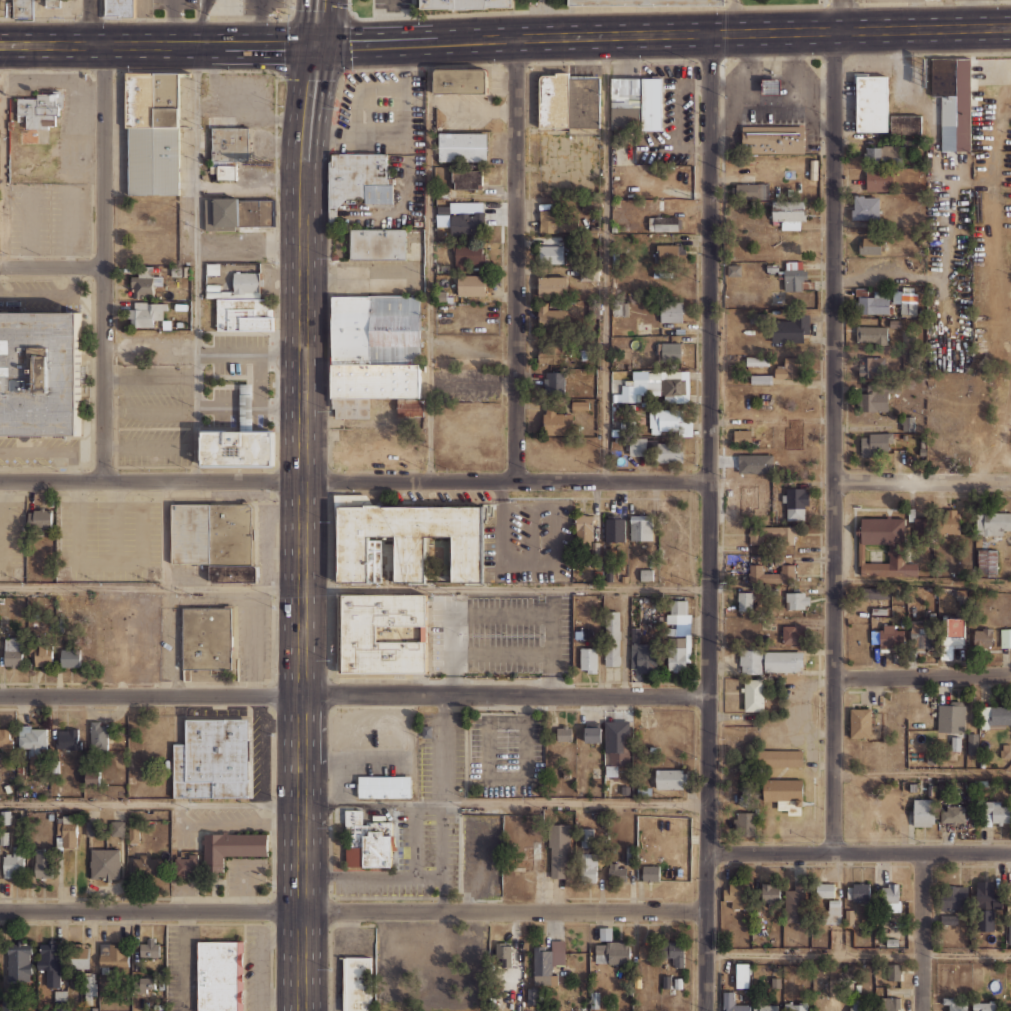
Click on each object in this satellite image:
parking lot: (884, 0)
building: (647, 1)
building: (52, 3)
parking lot: (174, 3)
building: (466, 3)
parking lot: (392, 4)
road: (392, 5)
building: (118, 8)
building: (22, 9)
road: (948, 13)
road: (836, 15)
road: (733, 16)
road: (91, 22)
road: (200, 22)
road: (317, 22)
road: (922, 27)
road: (574, 35)
road: (158, 45)
traffic signals: (316, 45)
building: (460, 80)
building: (770, 87)
gas station: (770, 87)
parking lot: (239, 98)
building: (553, 100)
building: (583, 100)
building: (953, 101)
building: (871, 102)
building: (635, 104)
building: (40, 109)
building: (905, 126)
building: (152, 133)
road: (398, 133)
building: (230, 135)
building: (773, 139)
building: (462, 147)
building: (230, 152)
road: (4, 155)
building: (884, 155)
parking lot: (569, 164)
building: (223, 171)
building: (466, 179)
building: (357, 180)
building: (878, 182)
building: (744, 193)
building: (443, 194)
building: (139, 210)
building: (864, 210)
building: (787, 212)
building: (238, 213)
parking lot: (48, 217)
building: (558, 221)
building: (663, 223)
building: (465, 224)
building: (377, 244)
building: (869, 246)
building: (140, 249)
building: (665, 253)
building: (551, 254)
building: (468, 255)
road: (604, 258)
road: (516, 259)
road: (429, 261)
road: (103, 262)
road: (197, 263)
road: (51, 265)
building: (772, 268)
building: (734, 270)
road: (362, 276)
building: (589, 276)
parking lot: (378, 277)
building: (796, 277)
building: (144, 281)
building: (245, 282)
building: (471, 284)
building: (552, 284)
building: (871, 304)
building: (908, 304)
building: (619, 309)
building: (671, 311)
building: (144, 313)
building: (243, 313)
building: (550, 315)
building: (757, 318)
building: (894, 323)
building: (374, 324)
building: (790, 330)
building: (870, 337)
road: (150, 346)
building: (670, 350)
parking lot: (237, 352)
road: (250, 353)
building: (583, 353)
building: (551, 355)
building: (374, 358)
building: (757, 360)
building: (872, 365)
building: (793, 366)
building: (40, 372)
building: (761, 378)
building: (375, 381)
building: (554, 383)
building: (660, 387)
building: (877, 401)
building: (580, 405)
building: (410, 407)
building: (348, 409)
parking lot: (153, 416)
building: (669, 421)
building: (556, 422)
building: (908, 424)
building: (624, 428)
building: (742, 434)
building: (237, 440)
road: (833, 441)
building: (380, 442)
building: (878, 445)
building: (656, 449)
road: (922, 481)
road: (354, 482)
building: (797, 504)
building: (39, 517)
road: (708, 521)
building: (952, 522)
building: (995, 523)
road: (302, 527)
building: (584, 527)
building: (641, 527)
building: (920, 527)
building: (614, 529)
building: (210, 533)
road: (165, 534)
building: (771, 534)
parking lot: (11, 537)
parking lot: (110, 538)
building: (404, 540)
parking lot: (529, 543)
building: (884, 547)
building: (987, 562)
building: (608, 572)
building: (232, 573)
building: (646, 574)
building: (772, 574)
building: (624, 579)
road: (150, 586)
road: (505, 587)
building: (901, 589)
building: (875, 593)
building: (961, 596)
building: (797, 600)
building: (745, 601)
building: (878, 610)
road: (502, 611)
building: (382, 632)
parking lot: (501, 633)
building: (922, 633)
building: (793, 634)
building: (678, 635)
building: (950, 636)
building: (1005, 637)
building: (206, 638)
building: (612, 638)
building: (888, 638)
building: (981, 638)
building: (13, 650)
building: (642, 652)
building: (42, 654)
building: (70, 656)
building: (588, 659)
building: (750, 660)
building: (782, 661)
road: (922, 675)
building: (754, 694)
road: (151, 697)
road: (505, 697)
building: (995, 717)
building: (951, 718)
building: (861, 722)
building: (98, 733)
building: (563, 733)
building: (593, 733)
building: (4, 737)
building: (68, 738)
building: (32, 741)
building: (618, 742)
building: (956, 742)
building: (973, 743)
building: (1005, 751)
parking lot: (505, 753)
building: (949, 756)
building: (781, 758)
building: (211, 759)
parking lot: (441, 761)
road: (921, 771)
building: (92, 777)
building: (670, 779)
building: (980, 784)
building: (384, 787)
building: (913, 787)
building: (783, 790)
building: (931, 790)
road: (504, 800)
road: (151, 802)
building: (924, 811)
building: (995, 812)
building: (952, 815)
building: (968, 819)
building: (746, 823)
building: (117, 826)
building: (91, 827)
building: (66, 831)
building: (133, 832)
building: (586, 837)
road: (412, 838)
building: (369, 845)
building: (231, 848)
building: (558, 850)
road: (859, 852)
building: (630, 855)
road: (443, 856)
building: (522, 856)
building: (13, 862)
building: (43, 862)
building: (105, 863)
building: (185, 865)
building: (146, 866)
building: (587, 866)
building: (616, 871)
building: (650, 873)
road: (372, 875)
building: (824, 890)
building: (770, 892)
building: (859, 892)
building: (737, 895)
building: (985, 895)
building: (891, 896)
building: (954, 898)
building: (794, 903)
building: (834, 910)
road: (352, 913)
building: (848, 917)
building: (949, 919)
road: (922, 932)
building: (1009, 935)
building: (892, 942)
building: (149, 948)
building: (646, 950)
building: (610, 953)
building: (675, 953)
road: (858, 953)
building: (79, 955)
building: (504, 955)
building: (113, 956)
building: (19, 961)
building: (49, 961)
building: (547, 963)
building: (357, 964)
building: (894, 972)
building: (742, 975)
building: (220, 976)
building: (357, 978)
building: (666, 981)
road: (834, 982)
building: (677, 983)
building: (143, 984)
building: (90, 987)
building: (671, 990)
building: (533, 996)
building: (357, 998)
building: (594, 999)
building: (733, 1003)
building: (955, 1004)
building: (984, 1005)
building: (764, 1006)
building: (795, 1006)
building: (877, 1006)

